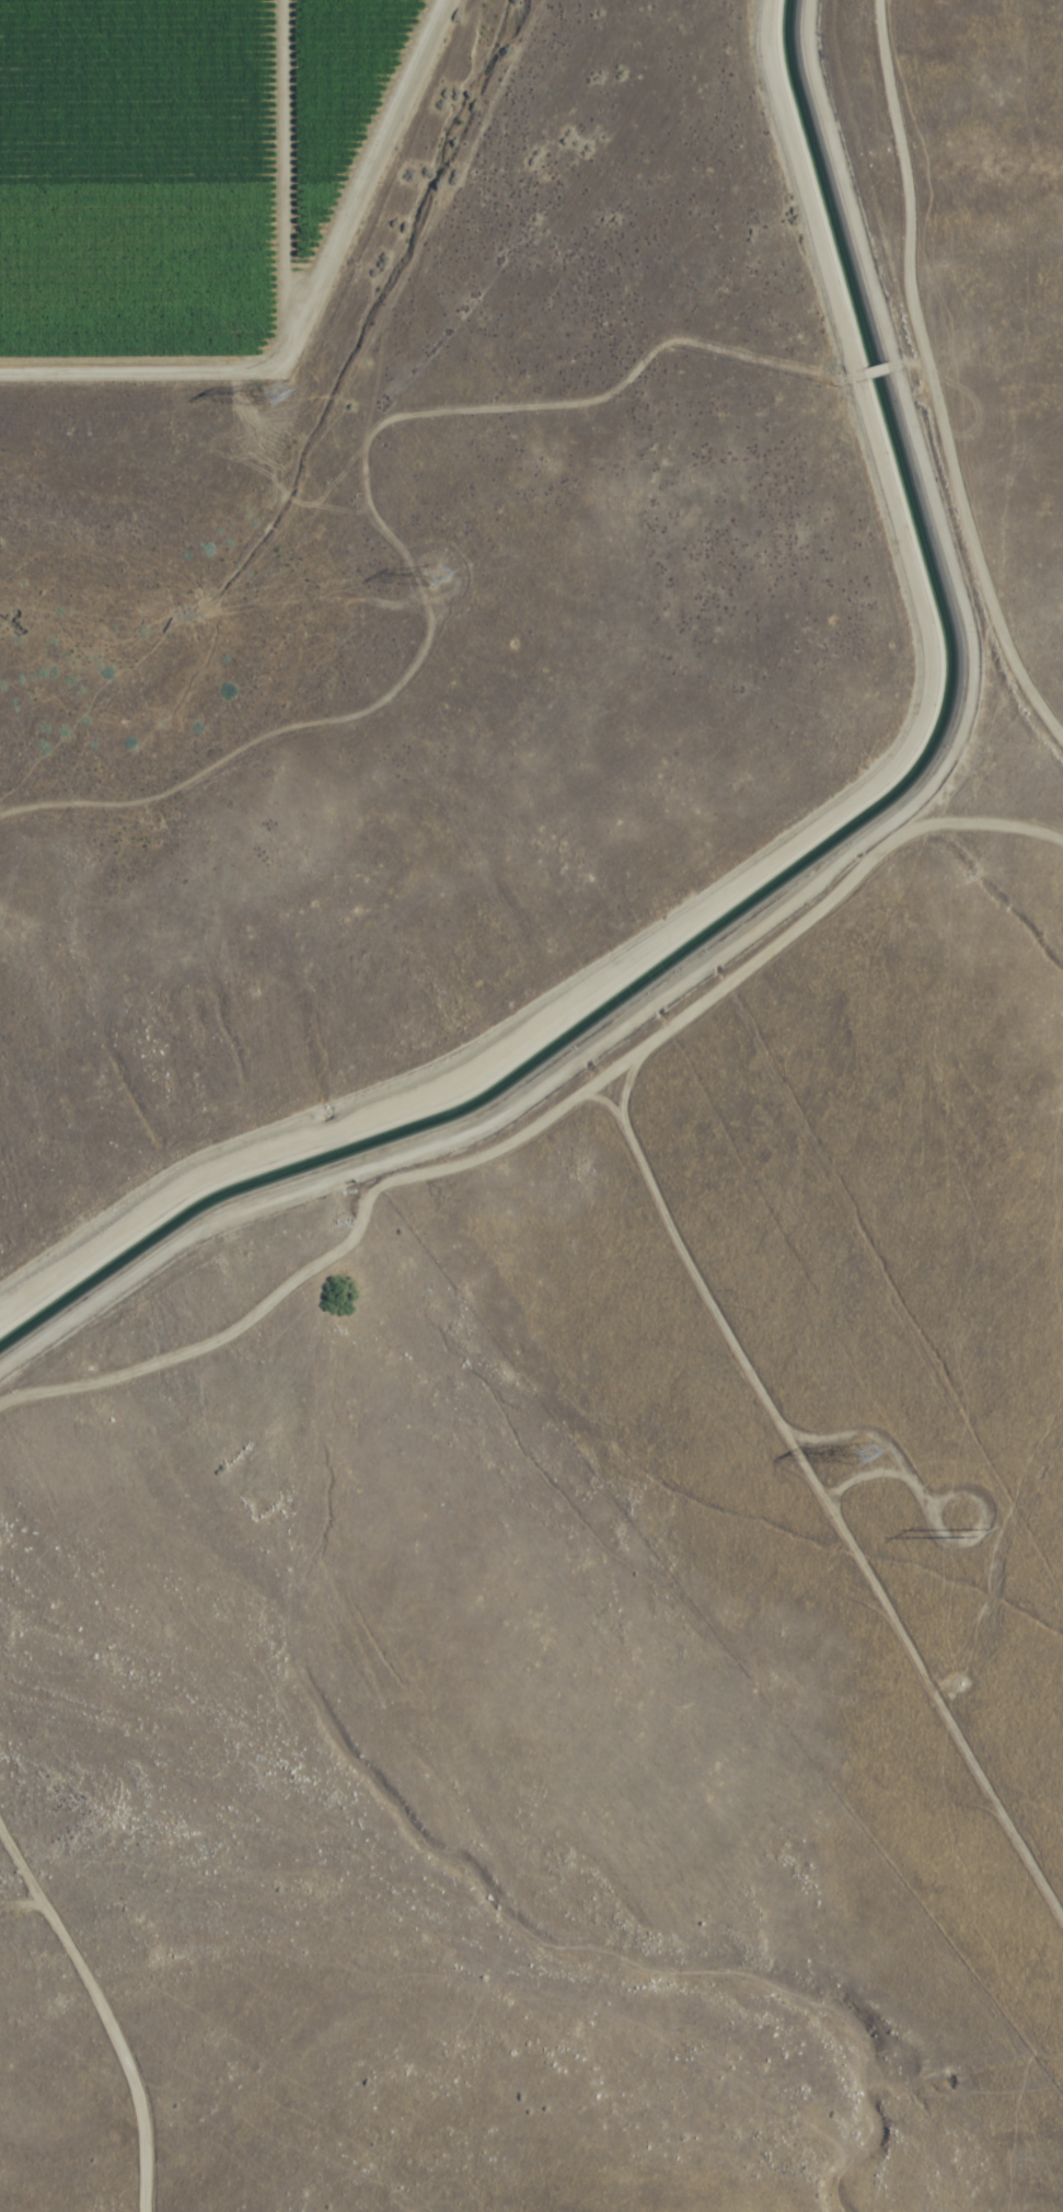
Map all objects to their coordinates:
crop: (173, 168)
power tower: (268, 393)
road: (271, 430)
power tower: (444, 578)
road: (5, 787)
road: (543, 1137)
power tower: (866, 1454)
power tower: (966, 1516)

